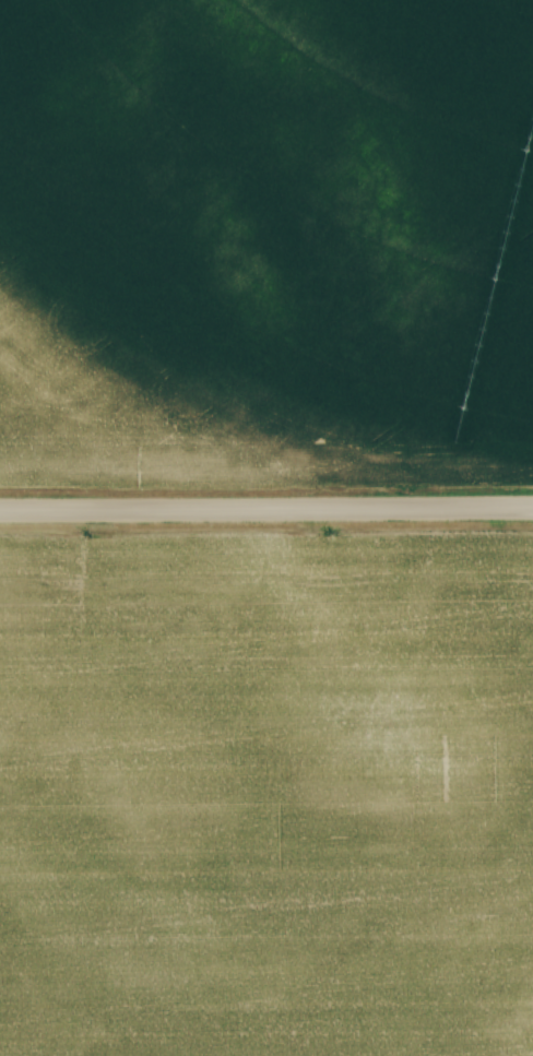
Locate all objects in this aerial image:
crop: (265, 241)
road: (266, 507)
crop: (266, 795)

